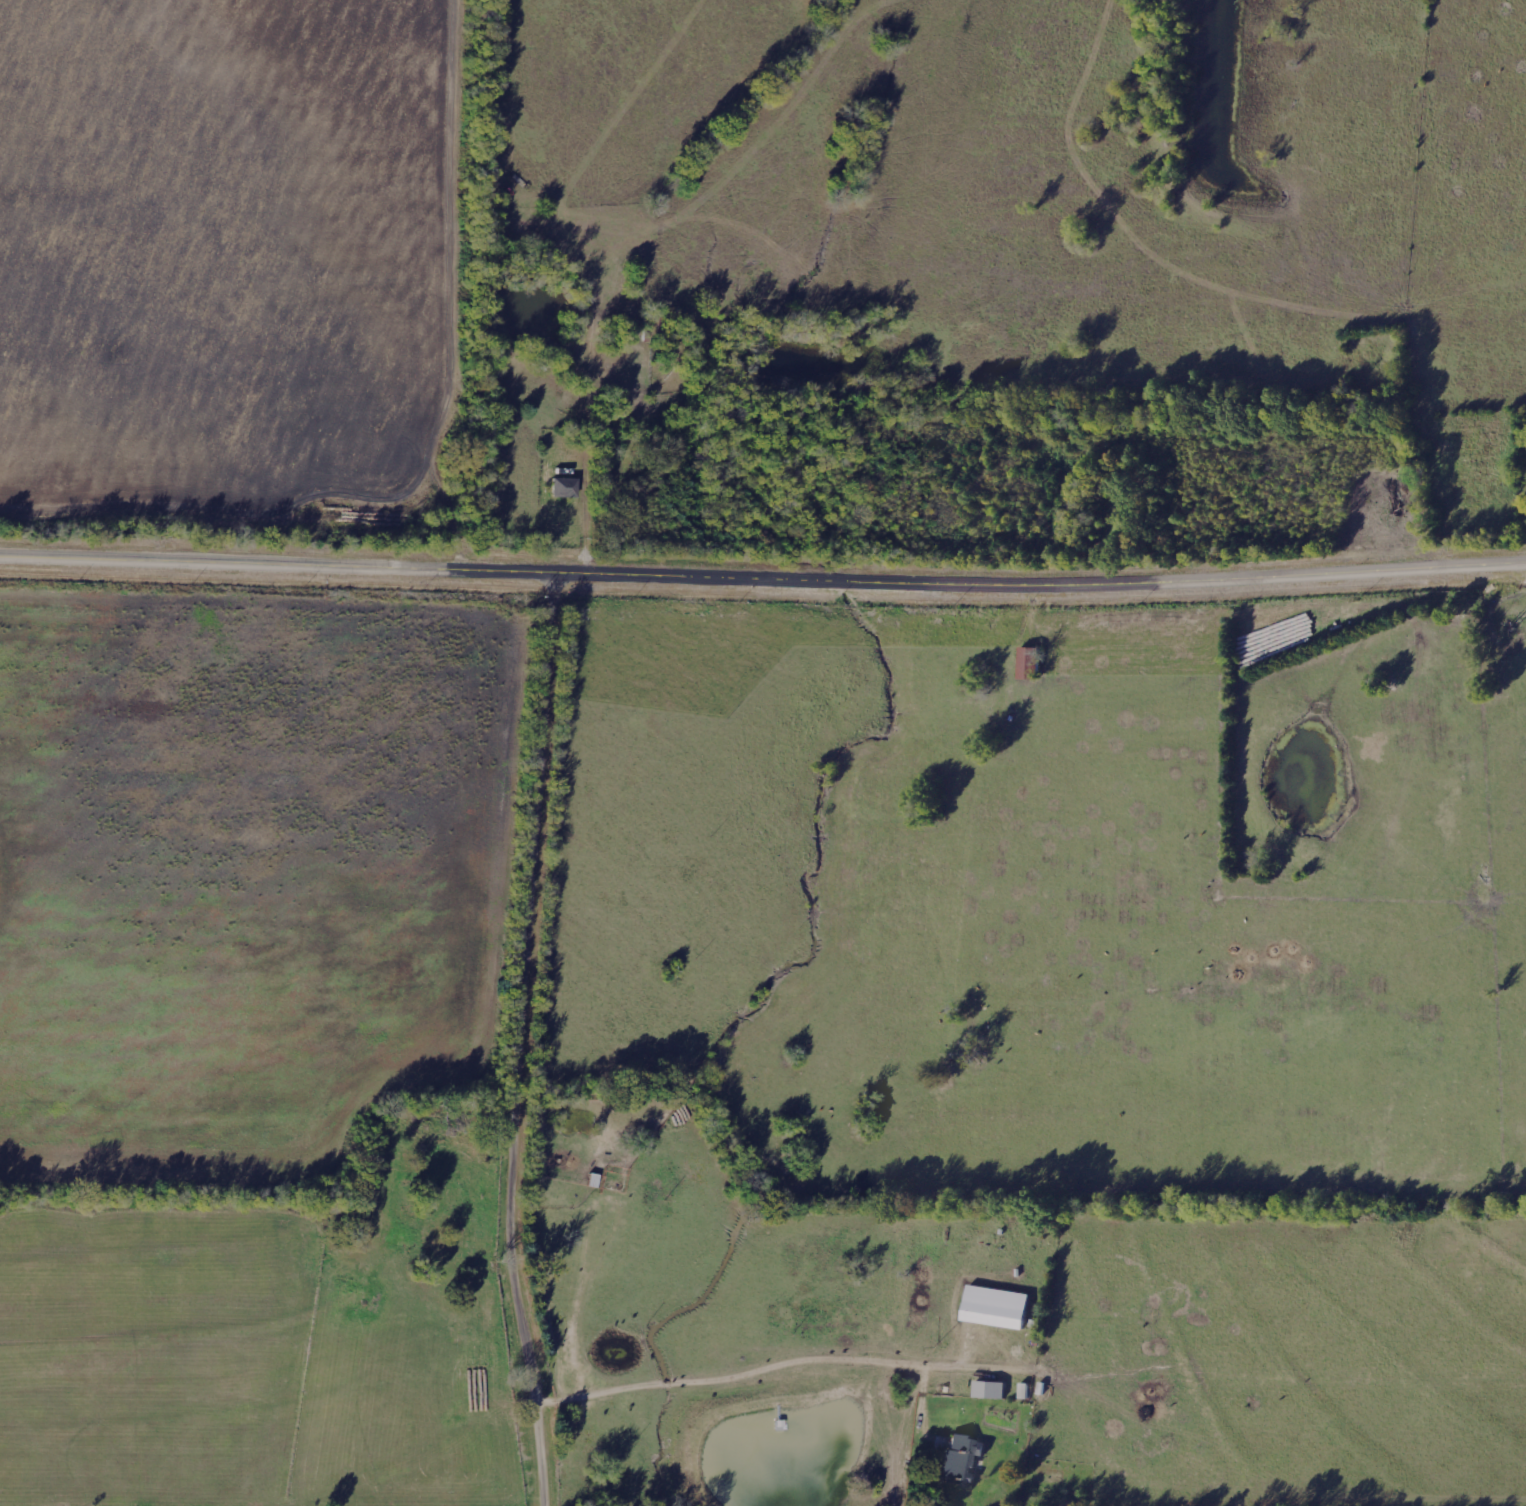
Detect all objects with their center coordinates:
road: (762, 566)
building: (1028, 663)
road: (526, 1037)
building: (994, 1307)
building: (989, 1389)
building: (1024, 1390)
building: (960, 1460)

